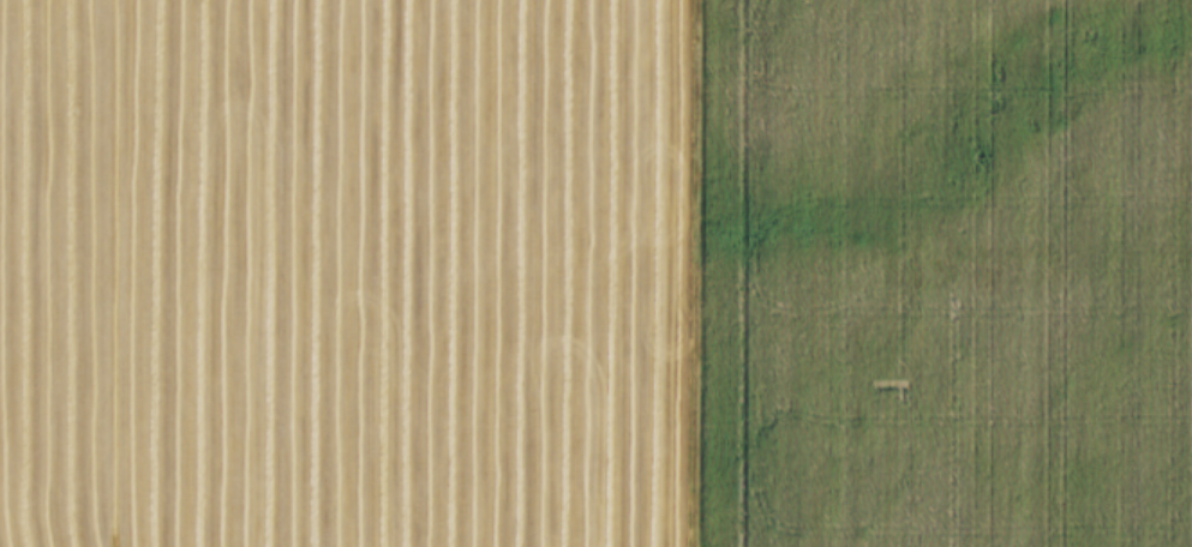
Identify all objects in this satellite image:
road: (697, 273)

